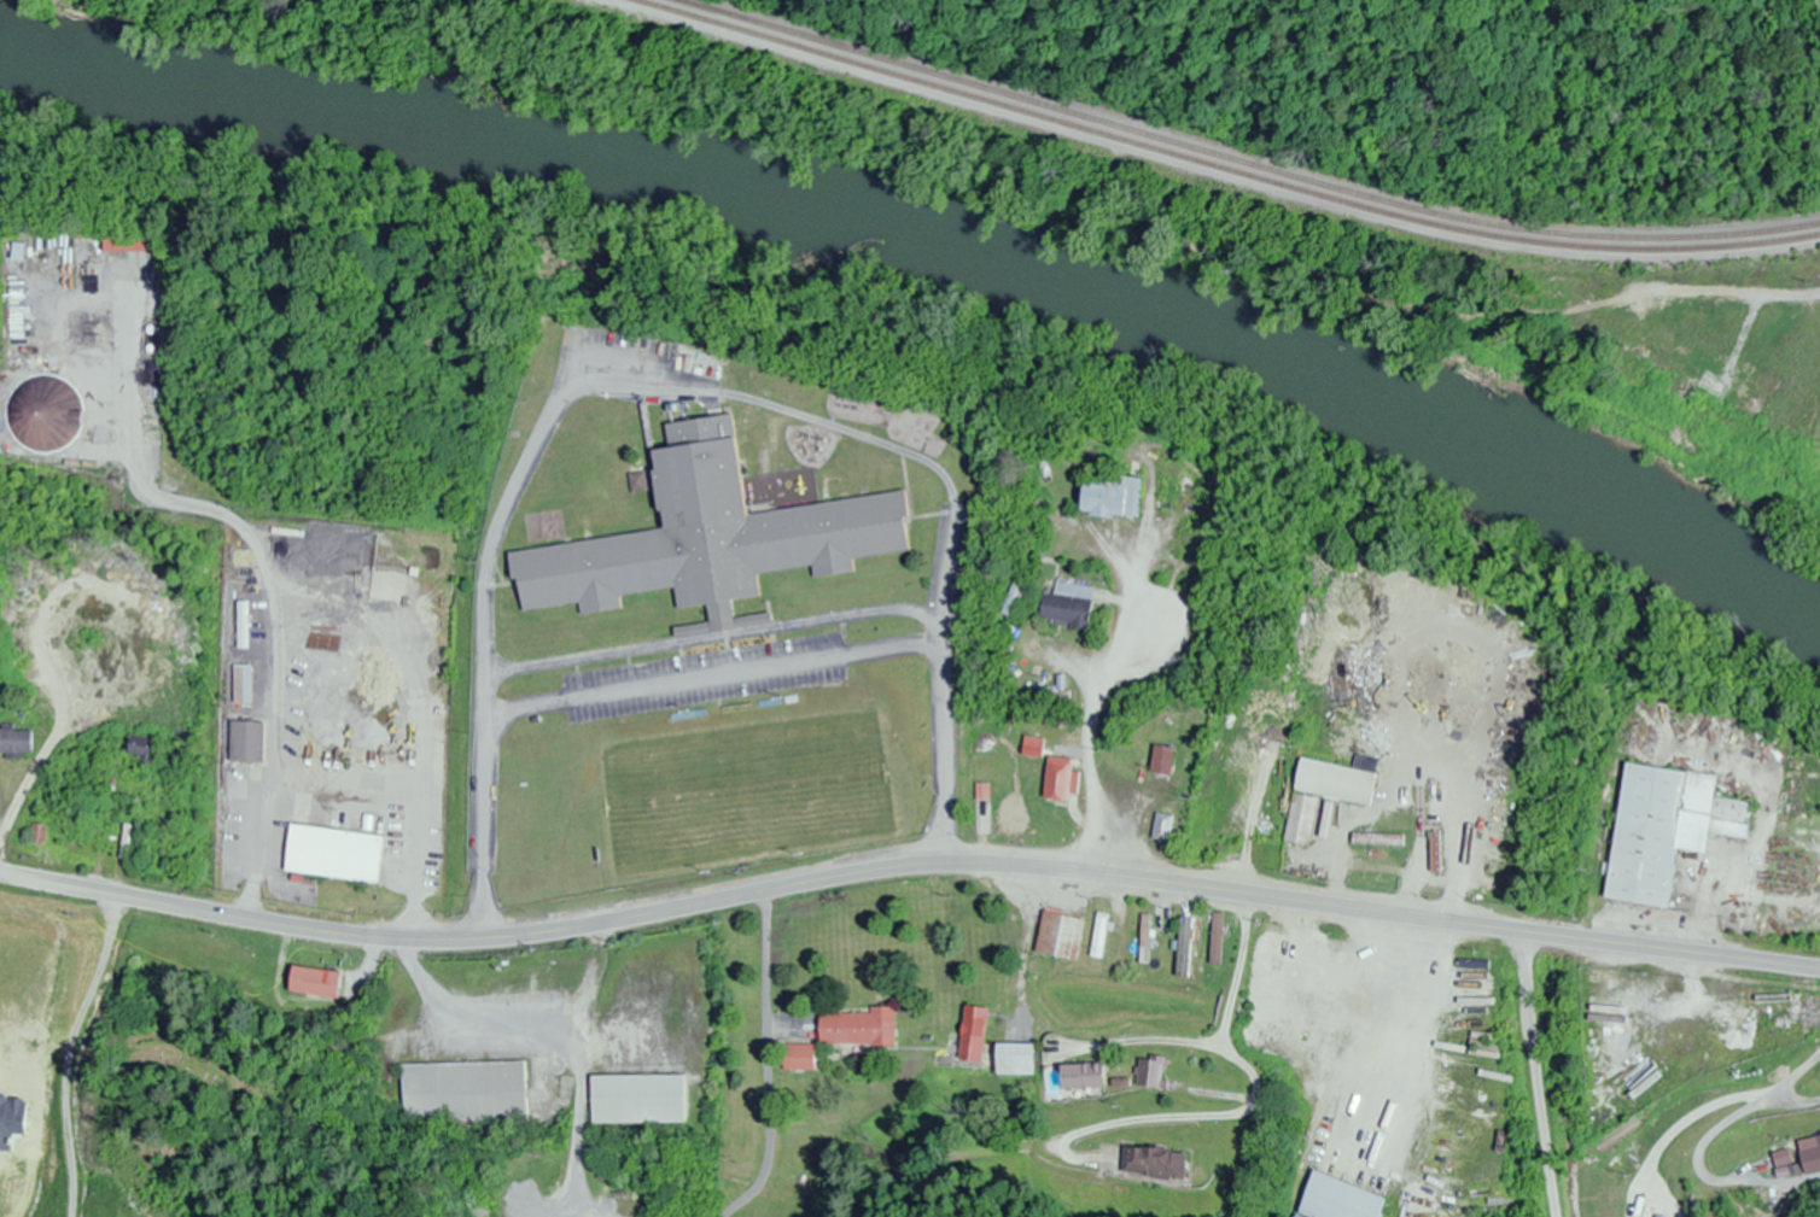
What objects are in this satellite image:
railway: (1241, 160)
railway: (1220, 165)
river: (938, 238)
building: (126, 244)
building: (18, 251)
building: (1580, 335)
building: (1720, 391)
building: (45, 419)
building: (1112, 498)
building: (710, 537)
building: (395, 571)
road: (251, 605)
building: (1068, 605)
building: (241, 684)
building: (1488, 730)
building: (14, 743)
building: (244, 743)
building: (1033, 748)
building: (139, 749)
building: (1162, 761)
building: (1060, 780)
building: (1162, 829)
building: (1667, 829)
building: (35, 835)
building: (231, 841)
building: (1436, 853)
building: (329, 854)
road: (906, 867)
building: (1057, 936)
building: (1098, 936)
building: (1143, 938)
building: (1215, 938)
building: (1182, 944)
road: (1250, 979)
building: (310, 983)
building: (1778, 1013)
building: (856, 1029)
building: (969, 1035)
building: (1621, 1047)
road: (766, 1059)
building: (797, 1059)
building: (1013, 1060)
building: (1149, 1073)
road: (1535, 1075)
building: (1079, 1076)
building: (461, 1093)
building: (635, 1100)
building: (1819, 1139)
building: (1812, 1162)
building: (1151, 1163)
building: (1334, 1200)

